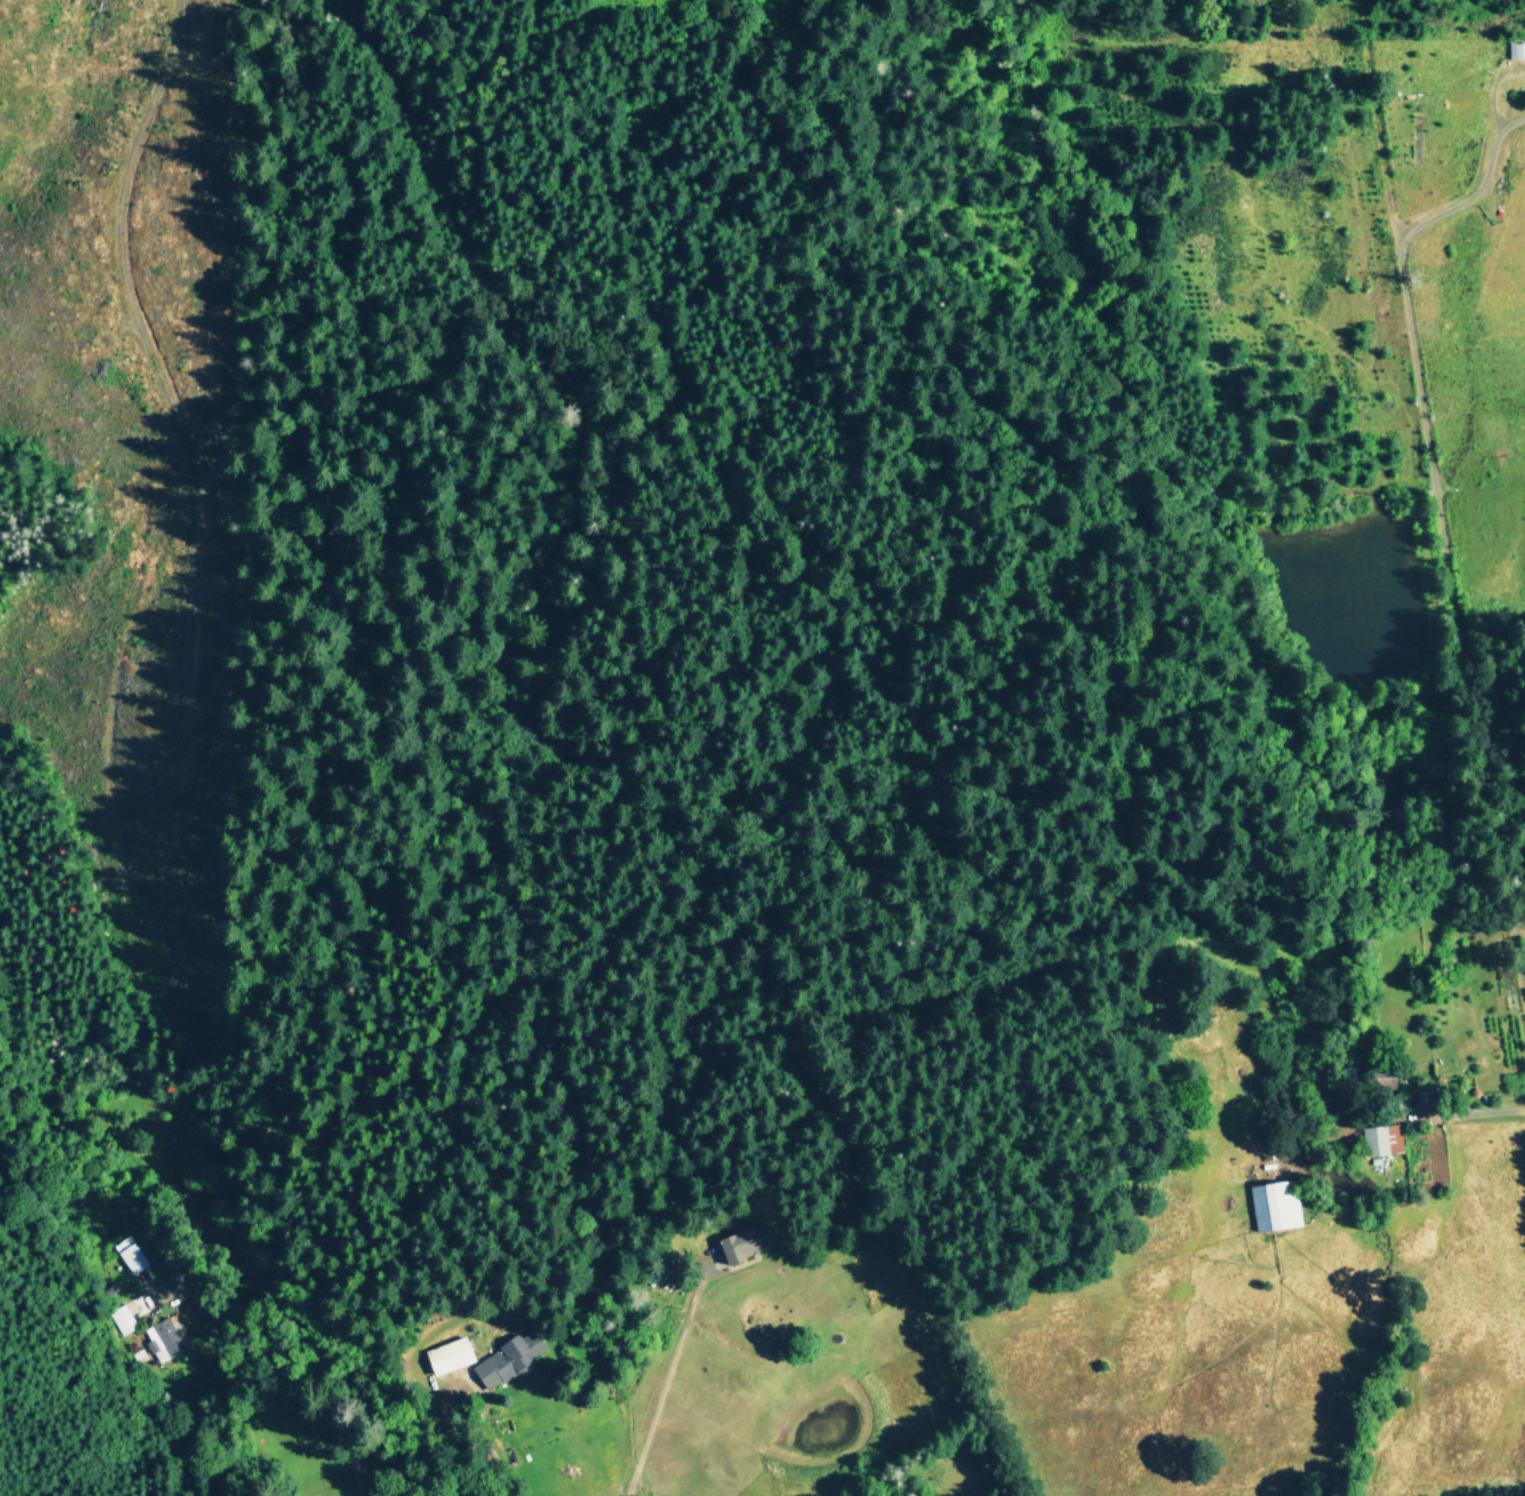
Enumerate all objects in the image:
road: (1473, 188)
road: (1439, 501)
road: (1463, 1111)
building: (1382, 1138)
building: (1274, 1206)
building: (747, 1241)
building: (130, 1254)
building: (123, 1318)
building: (163, 1339)
road: (342, 1346)
building: (448, 1355)
road: (667, 1380)
road: (702, 1425)
road: (381, 1454)

